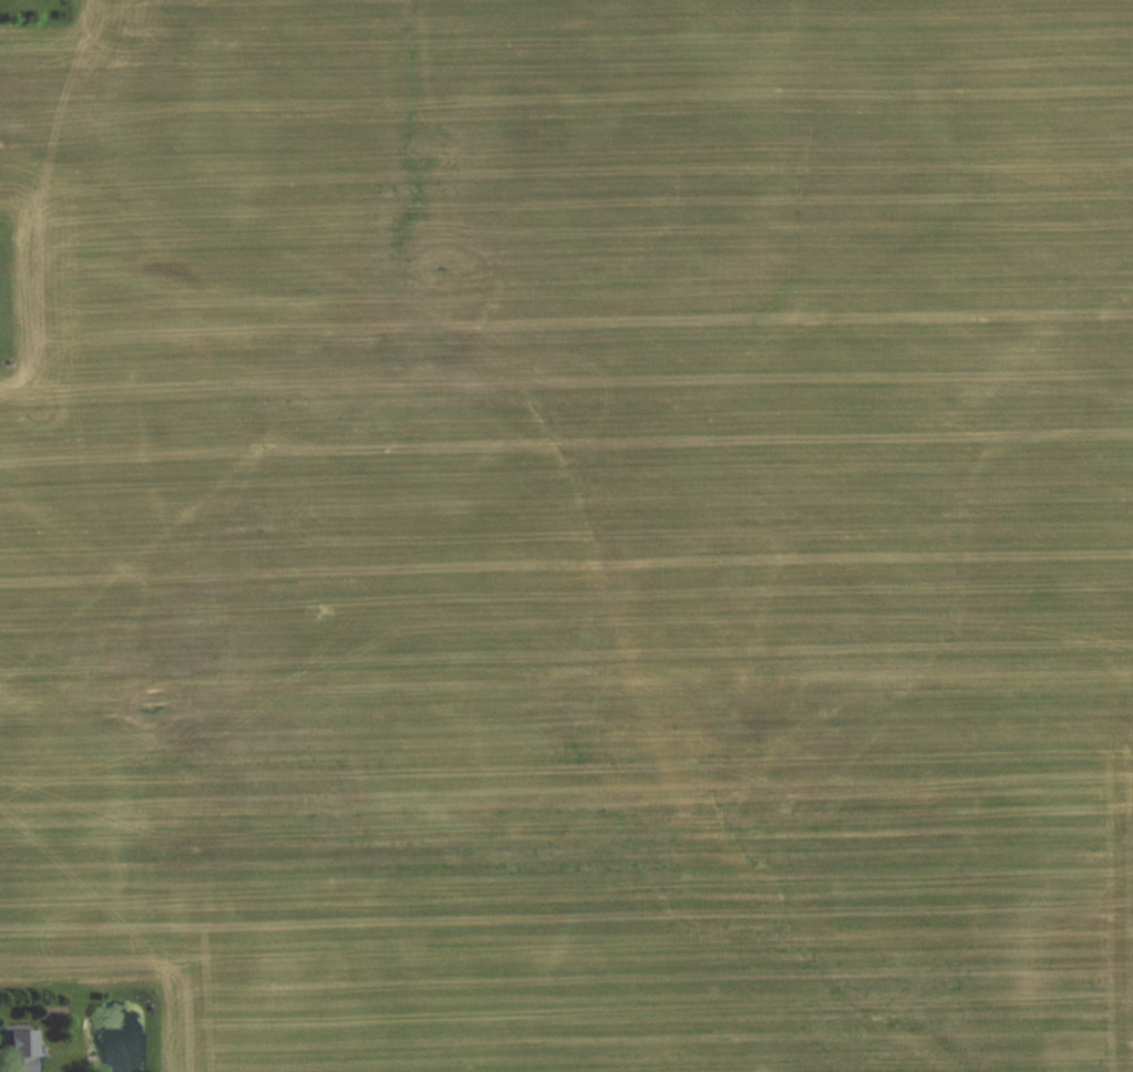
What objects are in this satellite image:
building: (19, 1048)

